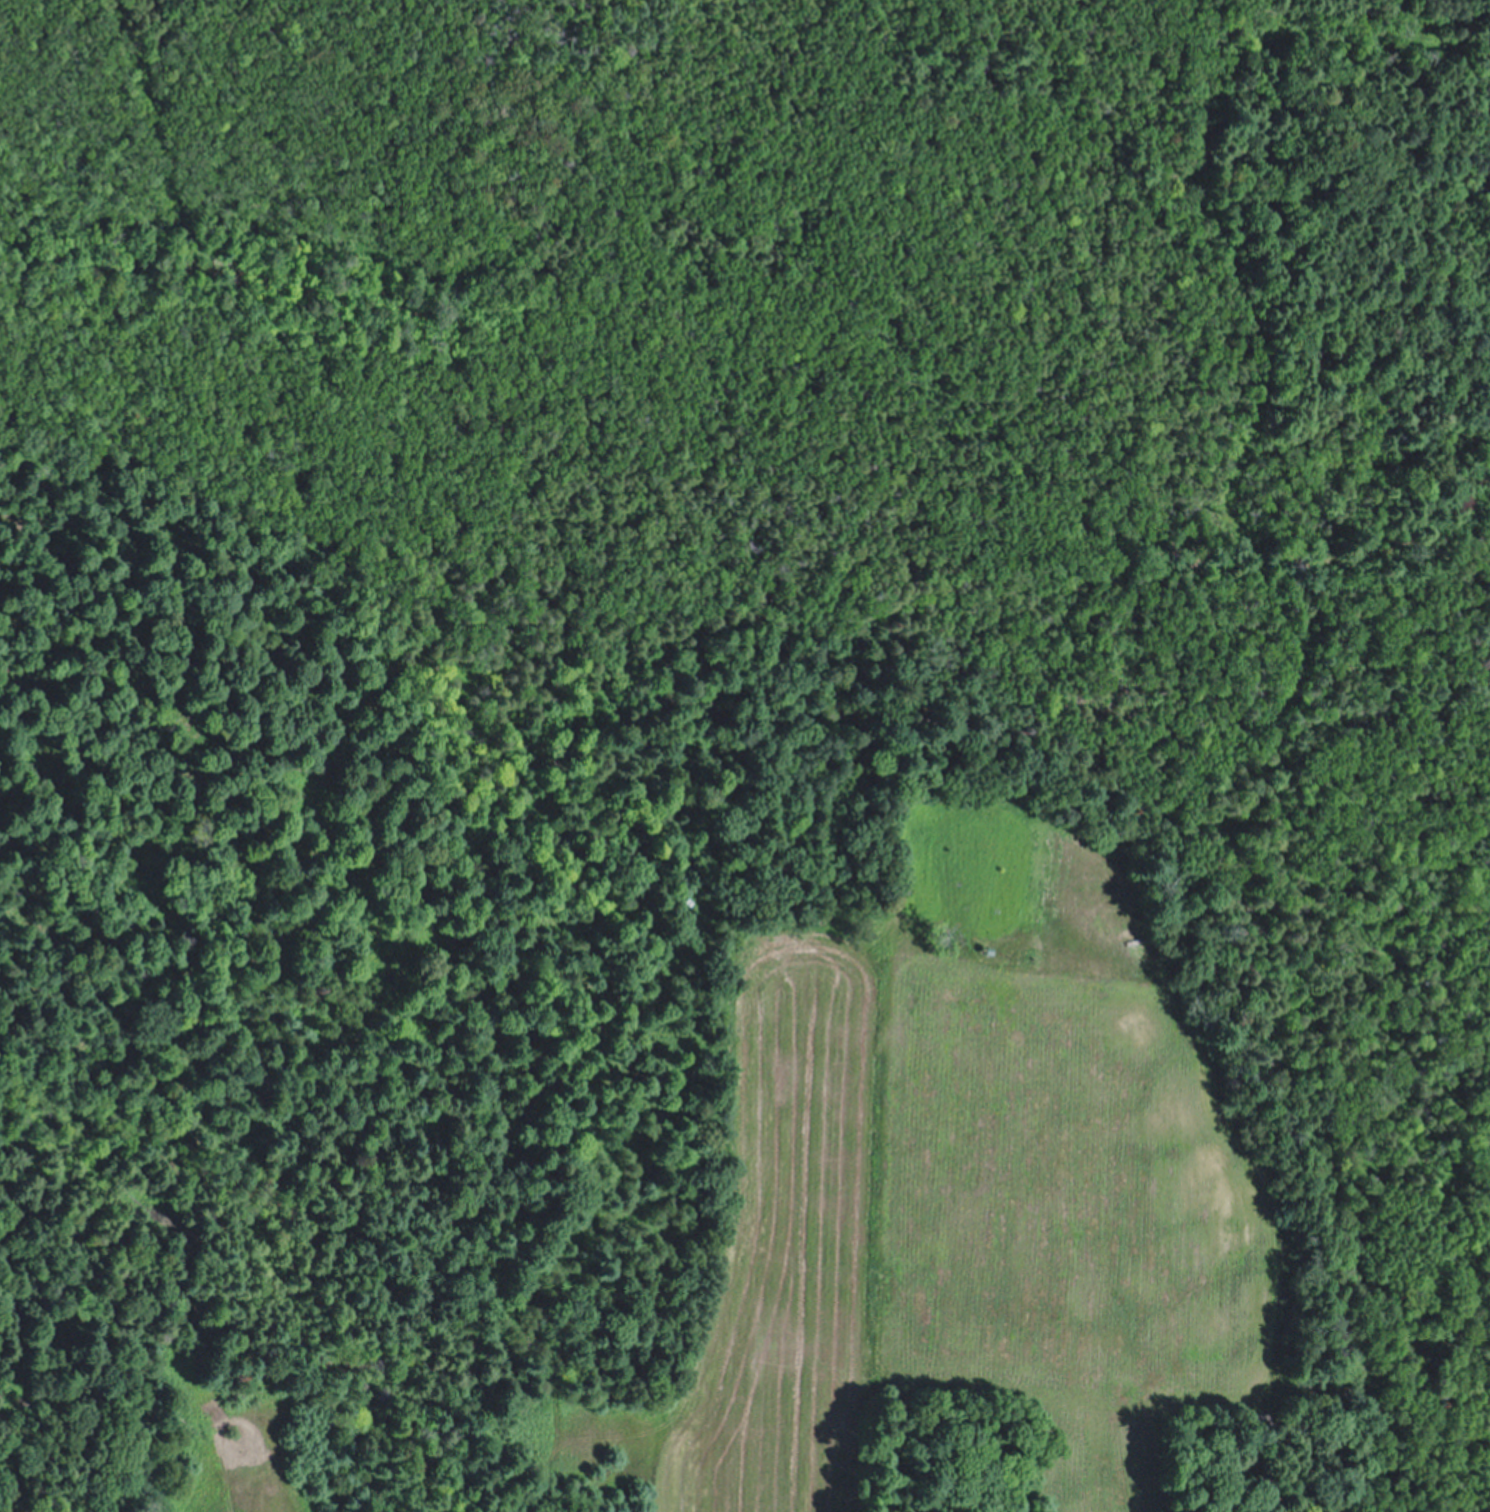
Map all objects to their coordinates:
building: (1260, 1418)

